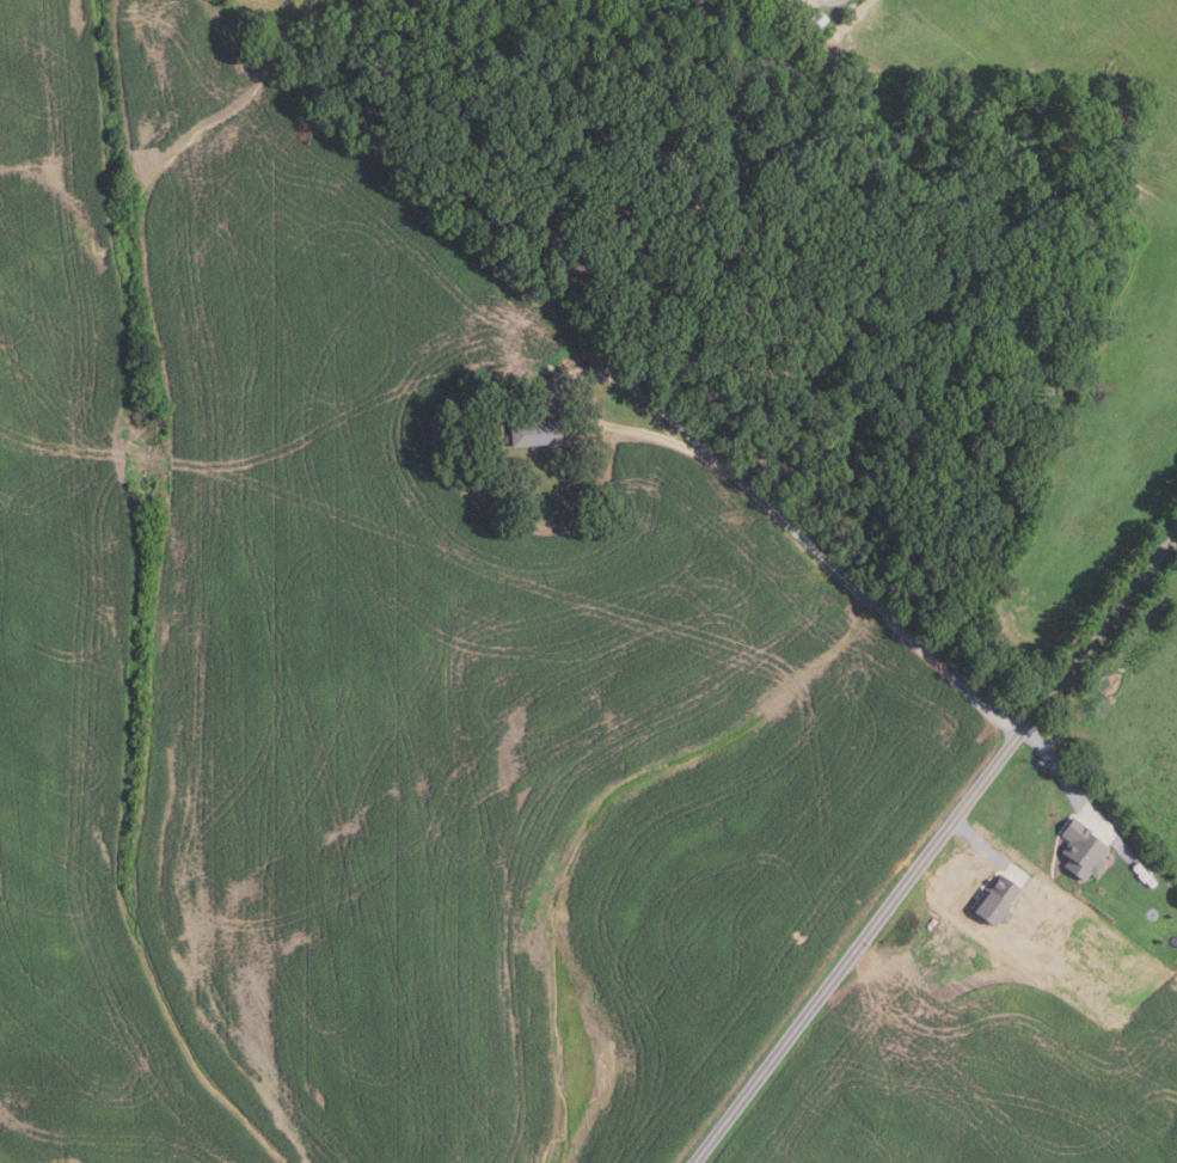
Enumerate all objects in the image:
building: (819, 19)
building: (538, 429)
road: (795, 538)
road: (936, 849)
building: (1085, 850)
building: (999, 901)
building: (982, 990)
building: (952, 1057)

